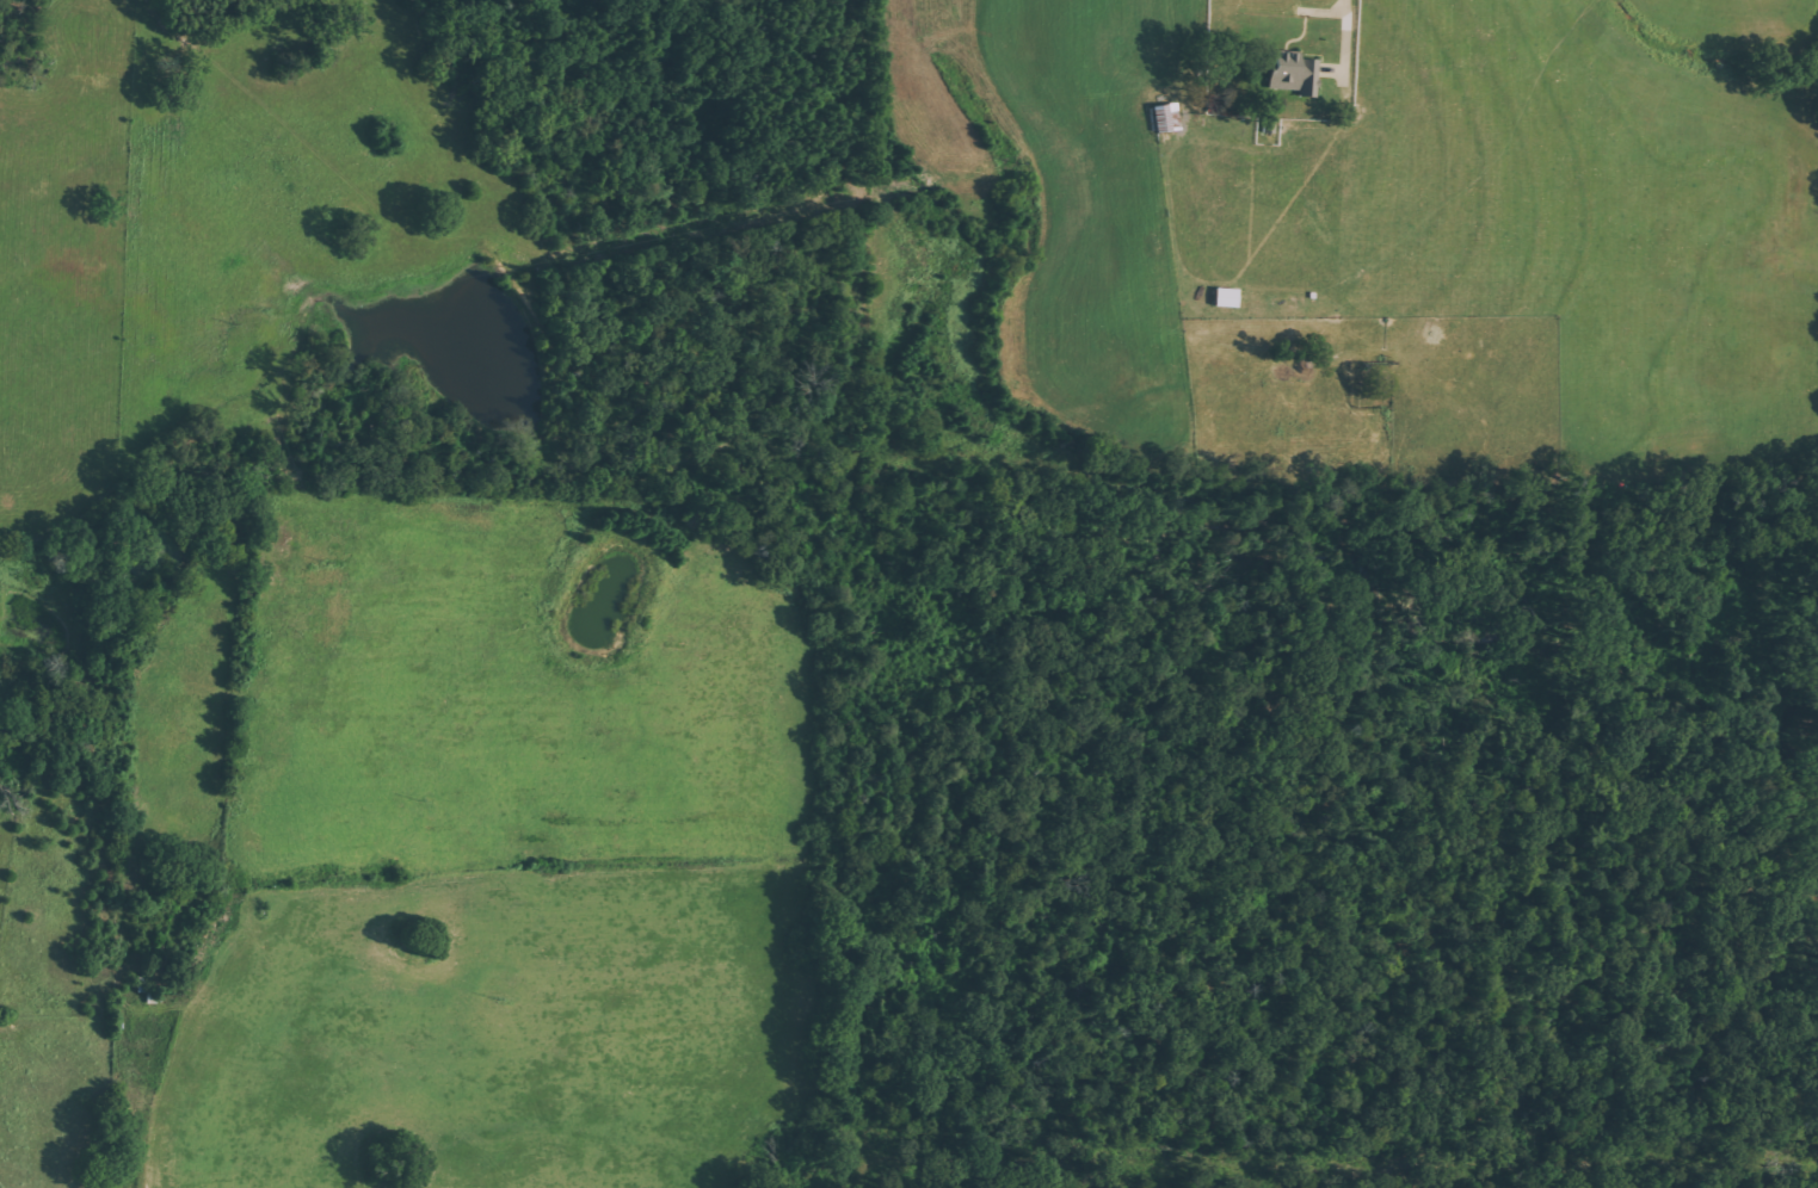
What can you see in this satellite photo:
building: (1289, 73)
building: (1269, 123)
building: (1231, 297)
road: (168, 1127)

